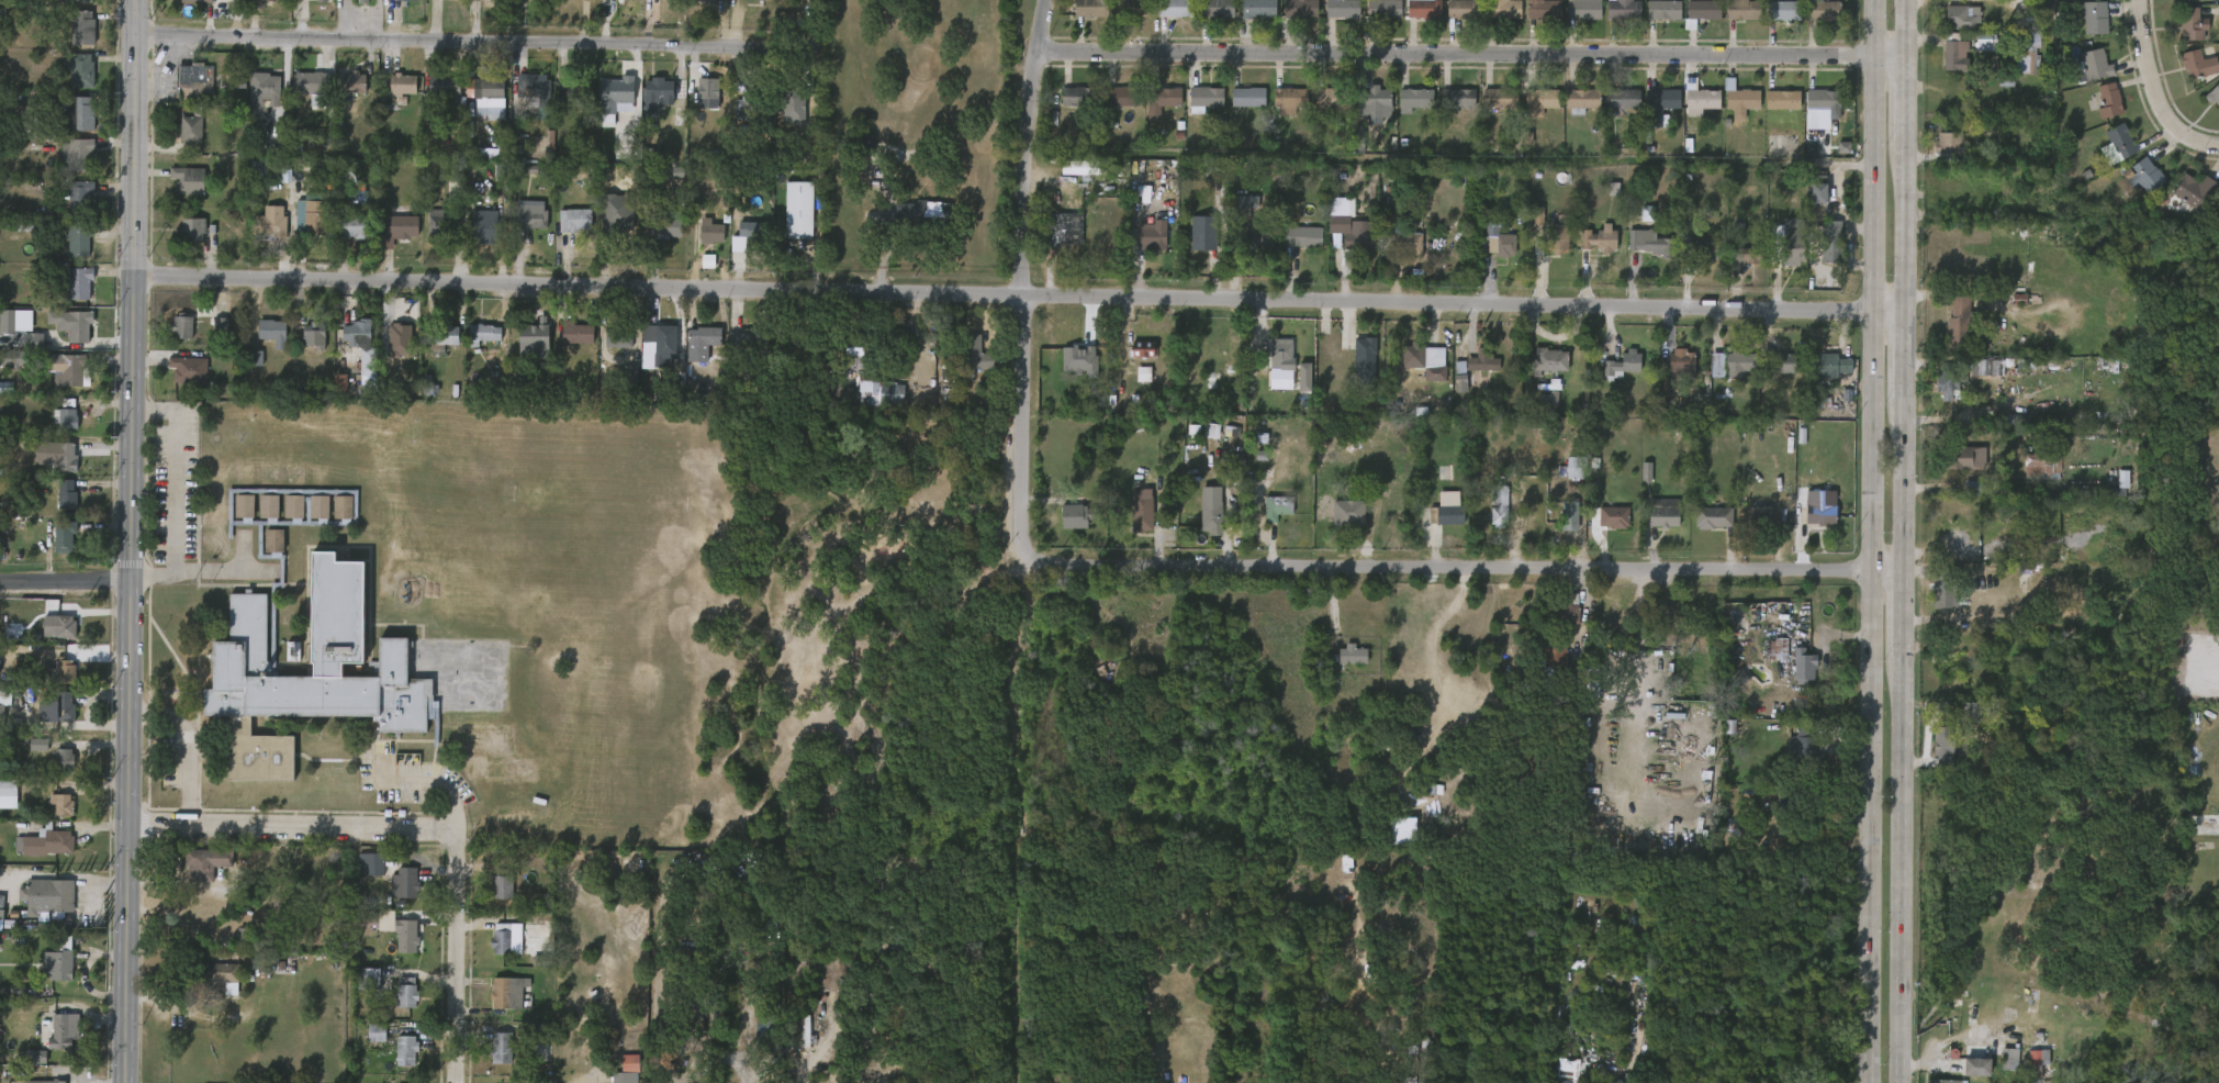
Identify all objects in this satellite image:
building: (267, 0)
building: (321, 0)
building: (363, 0)
building: (393, 0)
building: (706, 0)
building: (77, 1)
building: (199, 1)
building: (2185, 1)
building: (362, 2)
building: (1091, 8)
building: (1133, 8)
building: (1175, 8)
building: (1218, 8)
building: (1258, 8)
building: (1300, 8)
building: (1421, 8)
building: (1503, 8)
building: (1338, 9)
building: (1381, 9)
building: (1461, 9)
building: (1544, 9)
building: (1582, 9)
building: (1620, 9)
building: (1661, 10)
building: (1740, 10)
building: (1781, 11)
building: (1822, 11)
building: (1699, 12)
building: (1962, 16)
building: (2095, 16)
building: (2189, 24)
building: (83, 27)
road: (433, 41)
building: (1985, 43)
building: (1957, 53)
building: (2026, 53)
road: (1472, 56)
building: (2095, 65)
building: (2197, 65)
building: (80, 71)
building: (195, 81)
gas station: (195, 81)
building: (314, 83)
building: (354, 83)
building: (740, 83)
building: (404, 85)
road: (2161, 88)
building: (447, 89)
building: (709, 89)
building: (617, 92)
building: (262, 93)
building: (576, 93)
building: (658, 93)
building: (1158, 94)
building: (2212, 94)
building: (536, 96)
building: (1078, 96)
building: (1248, 96)
building: (491, 97)
building: (1124, 97)
building: (1332, 97)
building: (1415, 97)
building: (1500, 97)
building: (1582, 97)
building: (1204, 98)
building: (1458, 98)
building: (1742, 98)
building: (1289, 99)
building: (1370, 99)
building: (1623, 99)
building: (1783, 99)
building: (1823, 99)
building: (1702, 100)
building: (2110, 100)
building: (1539, 101)
building: (1660, 103)
building: (793, 105)
building: (752, 110)
building: (83, 113)
building: (189, 129)
building: (2121, 139)
building: (1947, 144)
building: (866, 145)
building: (1843, 147)
building: (75, 154)
building: (490, 155)
building: (1079, 167)
building: (501, 172)
building: (2143, 175)
building: (190, 181)
building: (1818, 188)
building: (2192, 191)
building: (80, 197)
building: (798, 209)
building: (1240, 210)
building: (1340, 210)
building: (927, 215)
building: (311, 216)
building: (530, 220)
building: (573, 220)
building: (400, 223)
building: (267, 224)
building: (359, 226)
building: (442, 226)
building: (484, 226)
building: (671, 227)
building: (1064, 228)
building: (194, 230)
building: (752, 230)
building: (713, 233)
building: (1204, 233)
building: (1358, 236)
building: (1153, 237)
building: (1258, 237)
building: (1302, 237)
building: (1557, 237)
building: (1600, 239)
building: (80, 241)
building: (1402, 241)
building: (1794, 241)
building: (1650, 242)
building: (1827, 242)
building: (1501, 245)
building: (1699, 248)
building: (1745, 255)
road: (1021, 267)
building: (80, 282)
road: (1020, 295)
building: (15, 321)
building: (1958, 321)
building: (78, 324)
building: (221, 326)
building: (180, 327)
building: (536, 328)
building: (272, 331)
building: (359, 331)
building: (486, 332)
building: (574, 333)
building: (314, 334)
building: (444, 334)
building: (619, 337)
building: (705, 337)
building: (400, 339)
building: (33, 340)
building: (661, 340)
building: (750, 343)
building: (851, 351)
building: (975, 354)
building: (1143, 354)
building: (1279, 354)
building: (1413, 356)
building: (13, 358)
building: (1480, 359)
building: (1547, 359)
building: (1079, 360)
building: (368, 361)
building: (1365, 361)
building: (1681, 361)
building: (1774, 362)
building: (1623, 364)
building: (1740, 365)
building: (1828, 365)
building: (1717, 366)
building: (69, 369)
building: (190, 369)
building: (1304, 377)
building: (1948, 381)
building: (340, 388)
building: (886, 394)
building: (67, 414)
building: (68, 457)
building: (1960, 457)
building: (1574, 466)
building: (2040, 466)
building: (1646, 472)
building: (243, 474)
building: (267, 474)
building: (292, 474)
building: (317, 476)
parking lot: (172, 482)
building: (66, 492)
road: (172, 492)
building: (1497, 504)
building: (244, 506)
building: (267, 506)
building: (292, 506)
building: (317, 506)
building: (340, 506)
building: (1277, 509)
building: (1141, 510)
building: (1348, 512)
building: (1211, 513)
building: (1818, 513)
building: (1444, 514)
building: (1080, 515)
building: (1567, 515)
building: (1661, 515)
building: (210, 516)
building: (1612, 516)
building: (1711, 516)
building: (1760, 518)
building: (65, 535)
building: (272, 539)
road: (1869, 540)
road: (1907, 540)
road: (128, 541)
building: (210, 543)
building: (2017, 557)
road: (1455, 568)
road: (220, 571)
road: (64, 582)
building: (1946, 589)
building: (1560, 612)
building: (1735, 621)
building: (60, 626)
park: (850, 632)
building: (1347, 655)
building: (1554, 658)
building: (1804, 665)
building: (239, 666)
building: (63, 672)
building: (1574, 682)
building: (58, 706)
building: (1972, 713)
building: (1, 717)
building: (466, 740)
building: (1943, 741)
building: (495, 744)
building: (38, 745)
road: (188, 746)
building: (1804, 748)
building: (65, 759)
building: (475, 768)
building: (524, 773)
road: (433, 785)
building: (7, 792)
building: (63, 804)
building: (1800, 816)
road: (290, 827)
building: (1401, 838)
building: (45, 844)
building: (208, 863)
building: (374, 864)
building: (406, 883)
building: (503, 883)
building: (45, 895)
building: (1, 907)
building: (901, 928)
building: (407, 936)
building: (504, 938)
road: (452, 956)
building: (61, 961)
building: (368, 978)
building: (221, 979)
building: (404, 991)
building: (506, 991)
building: (773, 992)
building: (59, 1030)
building: (377, 1032)
building: (769, 1035)
building: (503, 1048)
building: (405, 1050)
building: (35, 1057)
building: (2035, 1058)
building: (2009, 1060)
building: (630, 1063)
building: (1979, 1067)
building: (1567, 1071)
building: (624, 1078)
building: (1945, 1081)
building: (48, 1082)

